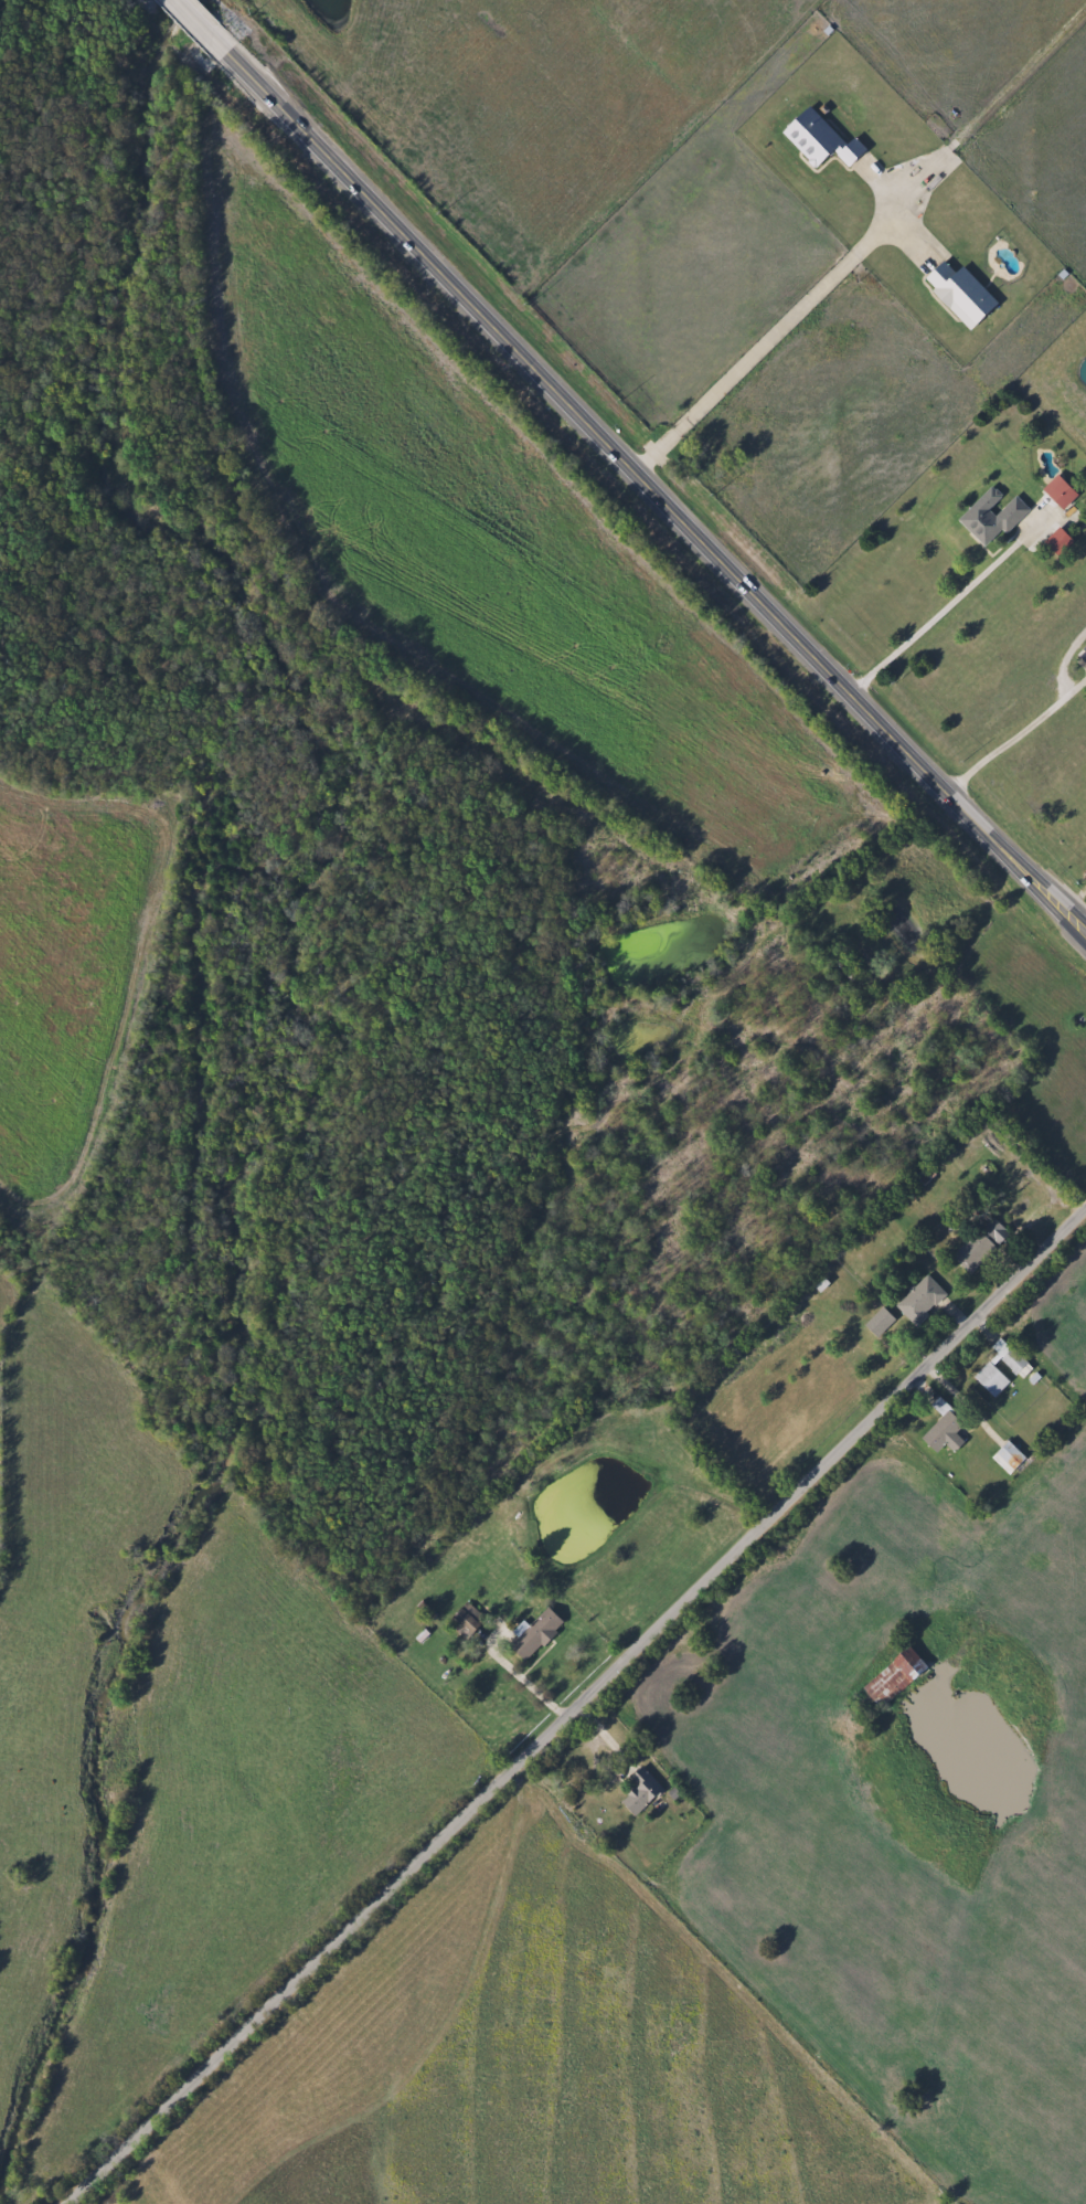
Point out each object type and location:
road: (195, 17)
building: (819, 140)
building: (958, 294)
road: (766, 345)
road: (649, 483)
building: (1058, 492)
building: (990, 517)
road: (944, 608)
road: (1064, 661)
road: (1003, 744)
building: (980, 1246)
building: (920, 1301)
building: (879, 1322)
building: (989, 1373)
building: (946, 1433)
building: (1008, 1458)
building: (471, 1623)
building: (542, 1634)
building: (893, 1677)
road: (575, 1705)
building: (646, 1792)

